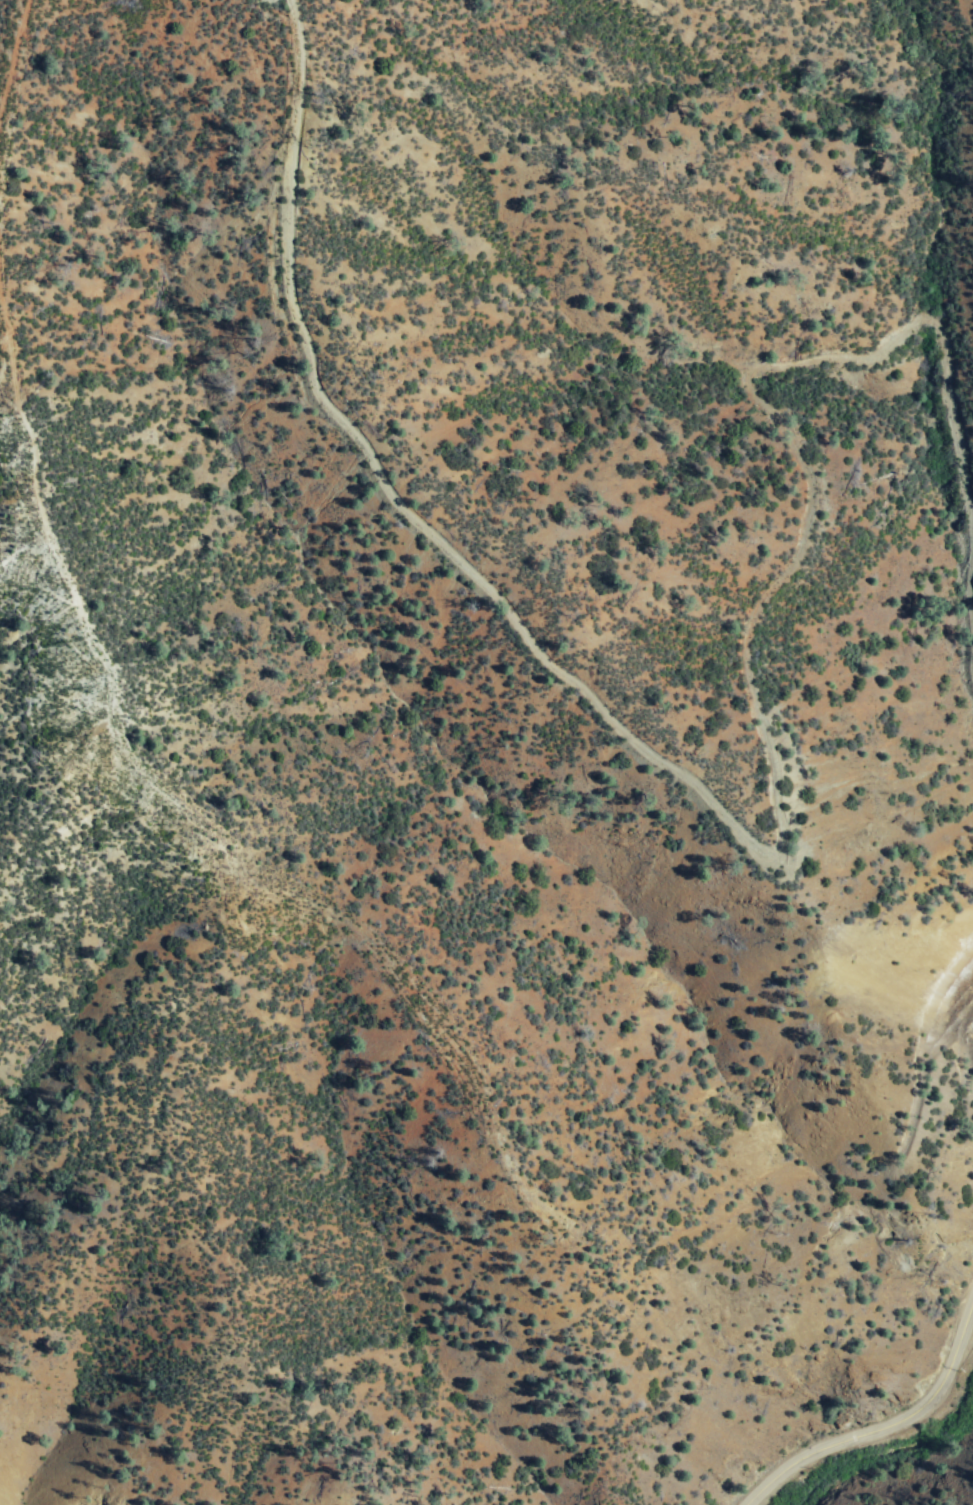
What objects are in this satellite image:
road: (886, 1427)

